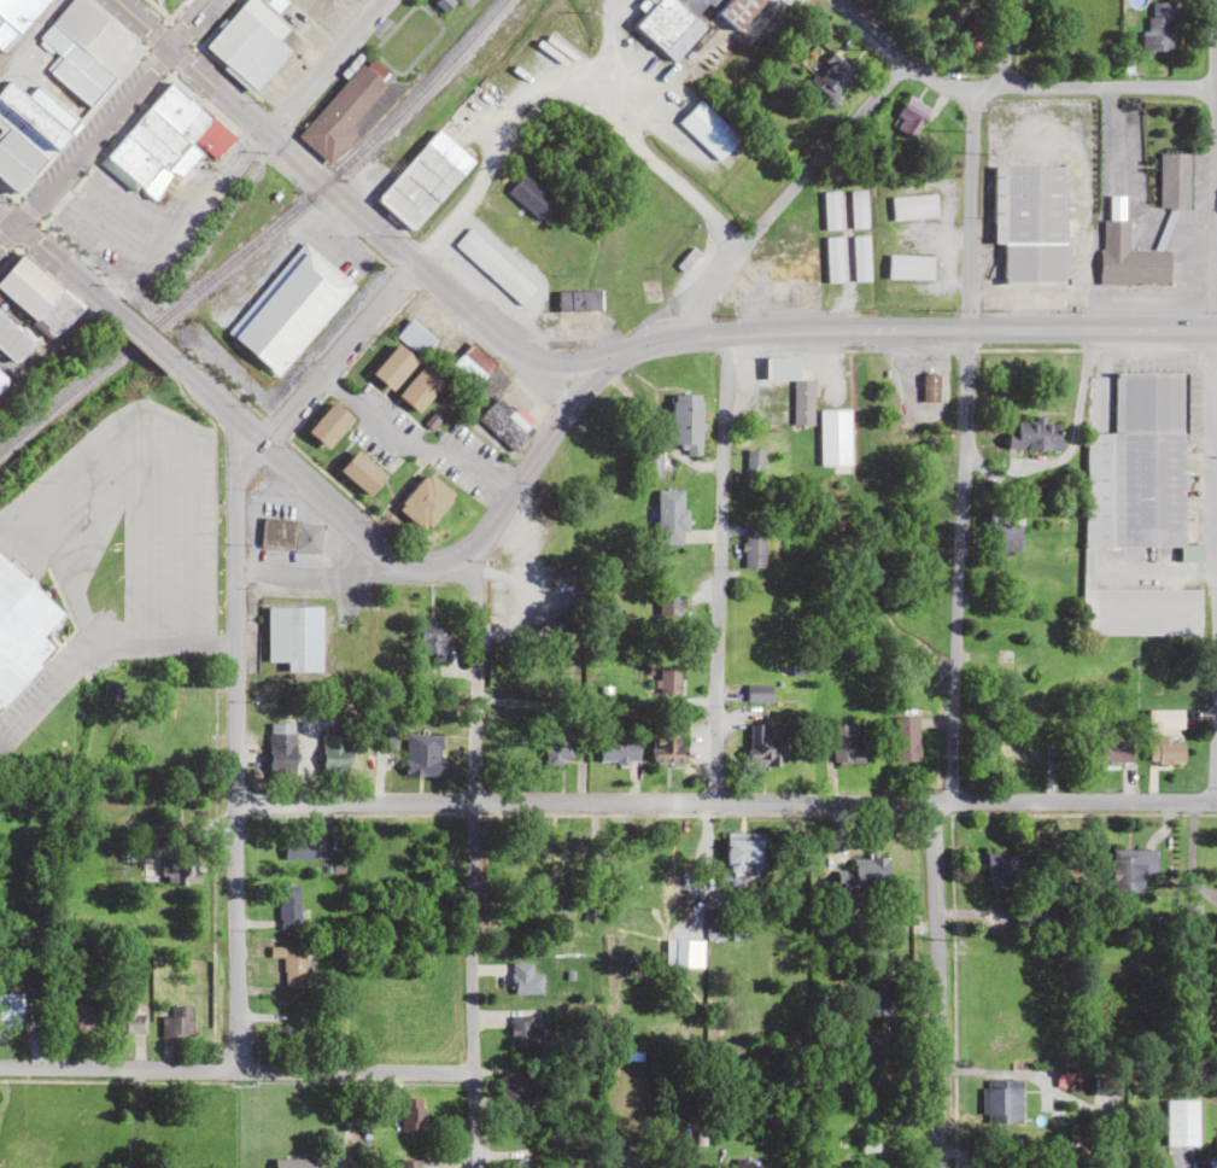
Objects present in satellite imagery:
building: (16, 16)
building: (686, 19)
road: (189, 24)
building: (1158, 25)
road: (867, 28)
railway: (490, 30)
building: (251, 40)
road: (1001, 43)
building: (84, 49)
road: (323, 66)
building: (835, 78)
road: (1049, 88)
road: (217, 90)
building: (340, 113)
building: (911, 119)
building: (708, 130)
building: (28, 134)
building: (159, 142)
road: (84, 146)
road: (1212, 164)
building: (428, 173)
building: (1172, 180)
road: (782, 194)
building: (532, 198)
building: (912, 206)
building: (858, 209)
building: (830, 210)
road: (967, 210)
building: (1030, 222)
railway: (262, 238)
road: (51, 255)
building: (859, 258)
building: (1129, 258)
building: (832, 259)
building: (493, 267)
building: (908, 267)
building: (791, 273)
road: (445, 296)
building: (577, 300)
building: (289, 308)
building: (29, 309)
road: (879, 329)
road: (136, 332)
road: (545, 360)
building: (474, 364)
building: (393, 367)
building: (1, 386)
building: (419, 389)
building: (929, 389)
building: (784, 396)
road: (1215, 398)
building: (505, 422)
building: (685, 422)
building: (328, 425)
building: (1032, 434)
building: (833, 438)
road: (282, 462)
building: (654, 463)
building: (753, 463)
building: (361, 473)
building: (426, 501)
building: (1137, 503)
road: (497, 508)
building: (669, 516)
building: (1004, 531)
building: (289, 536)
building: (753, 547)
road: (956, 565)
road: (720, 567)
road: (314, 574)
building: (666, 603)
building: (21, 629)
road: (229, 633)
building: (293, 638)
building: (431, 640)
building: (386, 646)
building: (358, 656)
building: (668, 681)
building: (757, 693)
road: (1215, 736)
building: (176, 737)
building: (905, 740)
building: (666, 744)
building: (763, 746)
building: (844, 746)
building: (619, 748)
building: (1164, 748)
building: (280, 749)
building: (1011, 751)
building: (1112, 751)
building: (333, 754)
building: (422, 757)
road: (724, 801)
building: (304, 847)
road: (470, 854)
building: (743, 858)
building: (871, 868)
building: (1127, 869)
building: (555, 870)
building: (1001, 871)
building: (177, 872)
building: (288, 907)
building: (714, 923)
building: (289, 963)
building: (525, 980)
road: (932, 985)
building: (879, 993)
building: (10, 1005)
building: (77, 1015)
building: (129, 1021)
building: (176, 1022)
building: (523, 1032)
building: (879, 1041)
road: (235, 1071)
building: (873, 1084)
building: (516, 1090)
building: (1001, 1102)
building: (411, 1114)
building: (1180, 1122)
building: (291, 1162)
building: (409, 1163)
building: (517, 1164)
building: (749, 1164)
building: (1052, 1164)
building: (1000, 1167)

